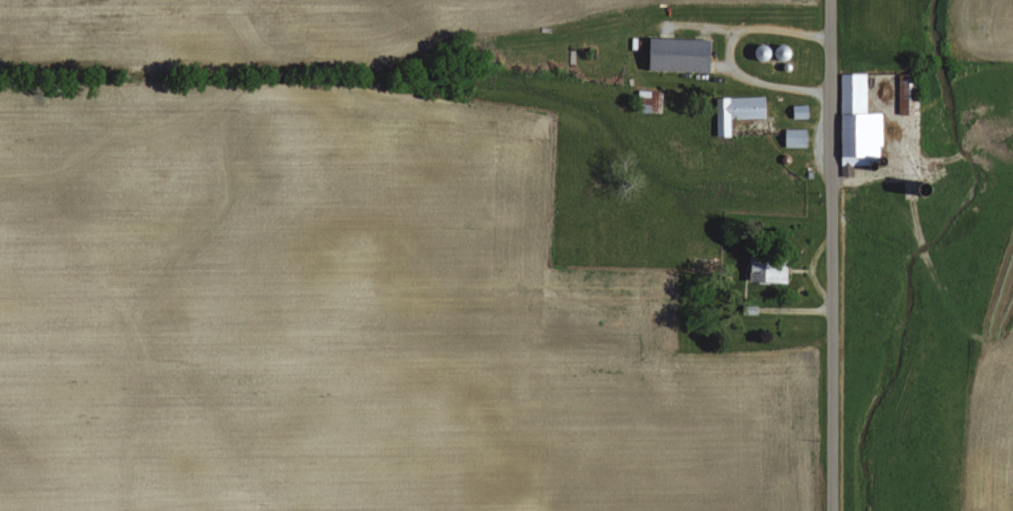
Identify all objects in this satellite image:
road: (729, 53)
building: (683, 55)
building: (739, 111)
building: (802, 111)
building: (860, 123)
building: (798, 138)
road: (830, 255)
building: (771, 271)

